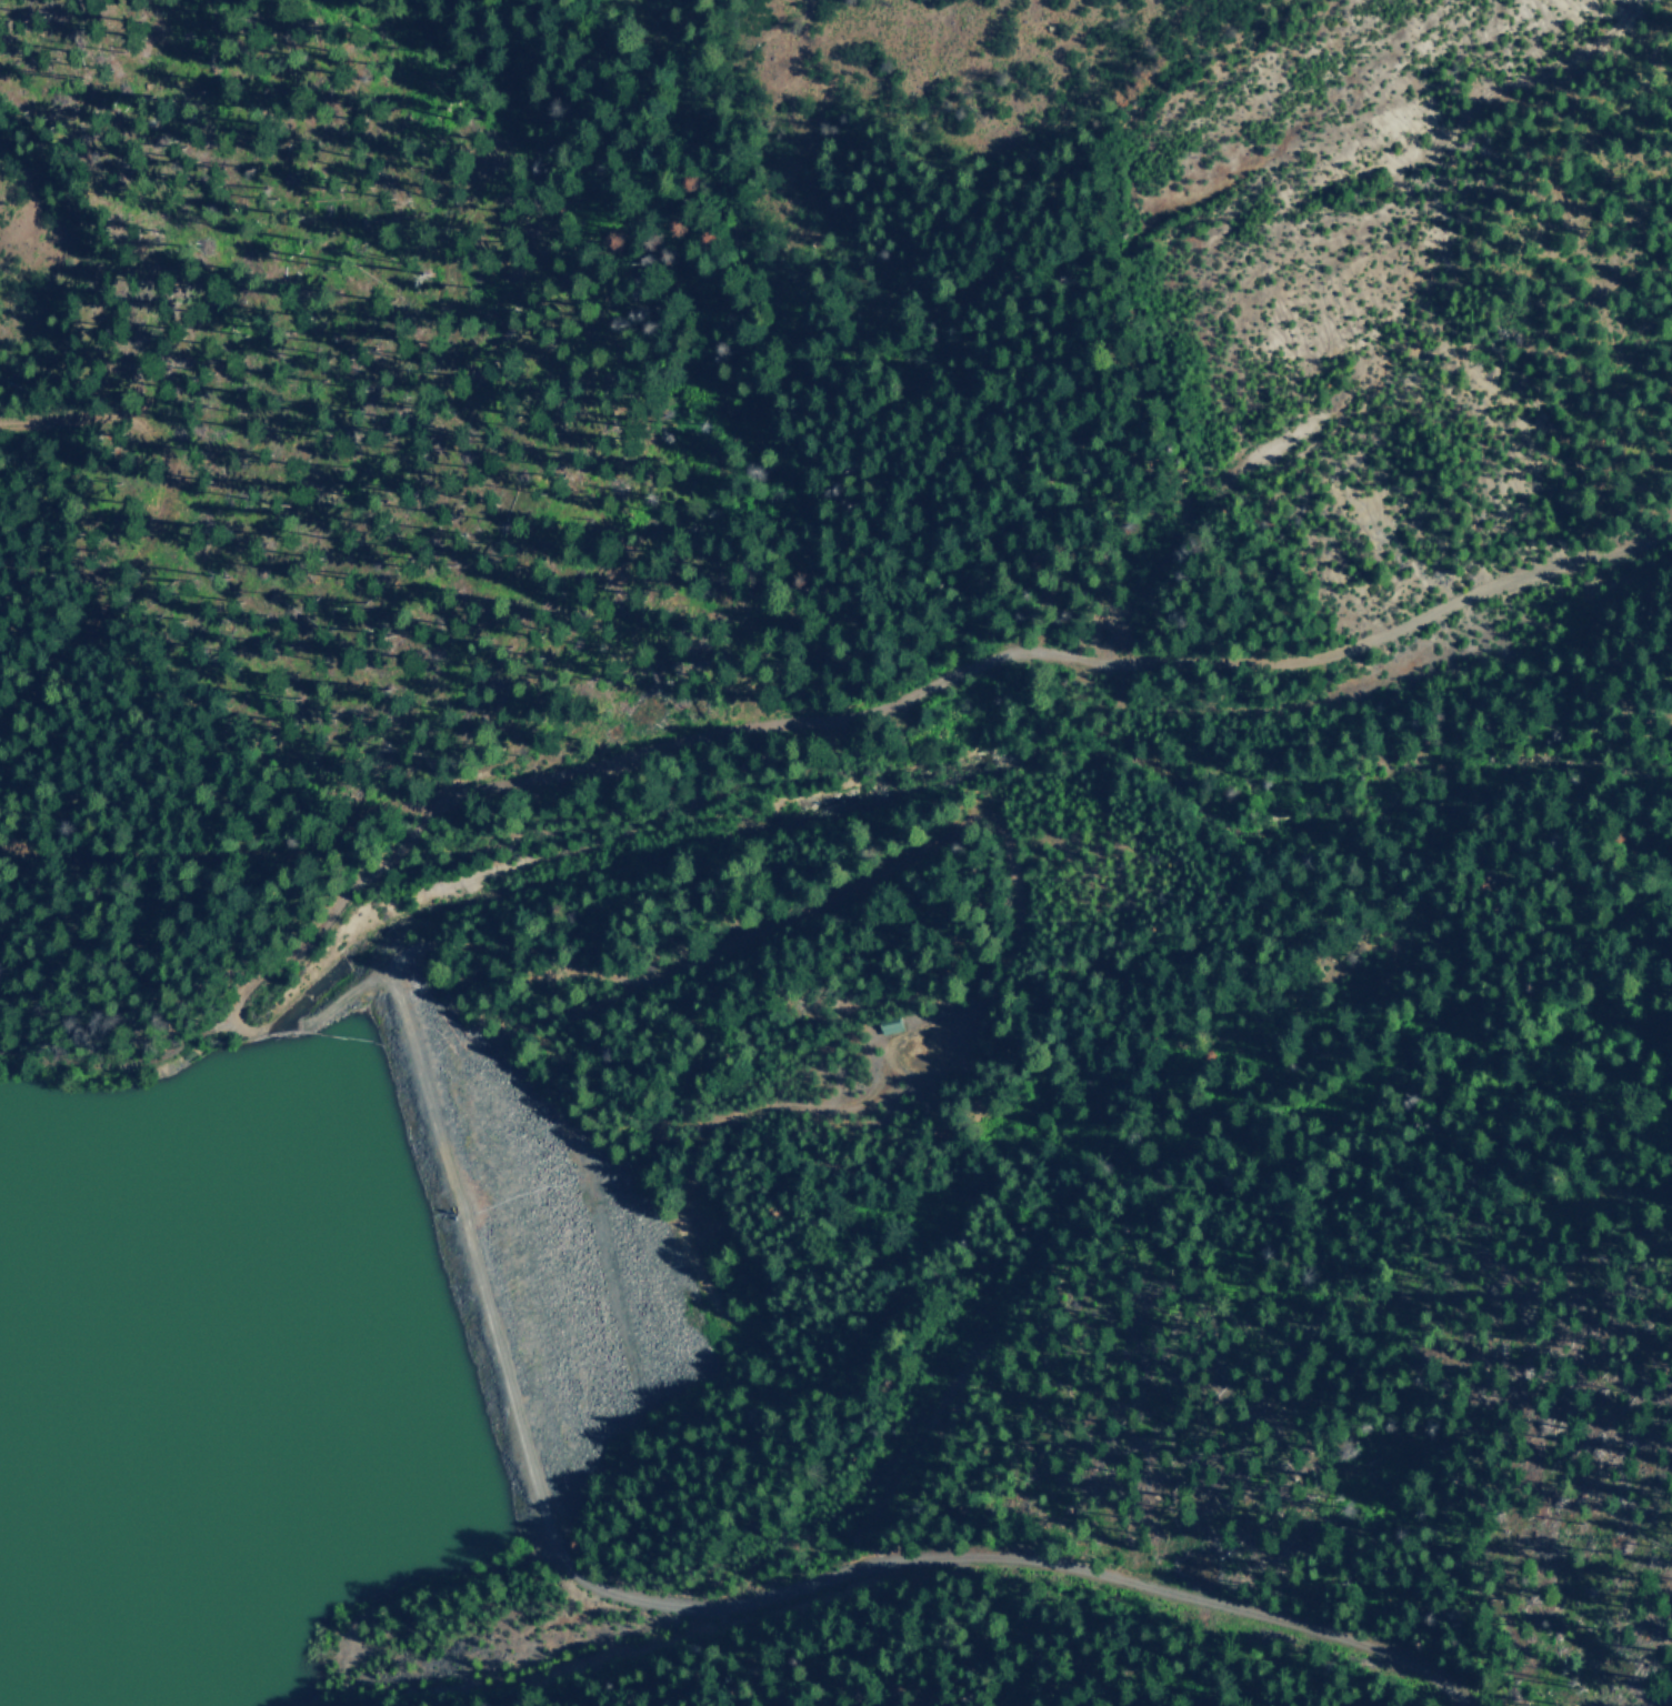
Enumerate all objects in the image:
road: (159, 508)
road: (622, 750)
road: (202, 846)
road: (120, 1058)
dam: (535, 1264)
road: (722, 1604)

